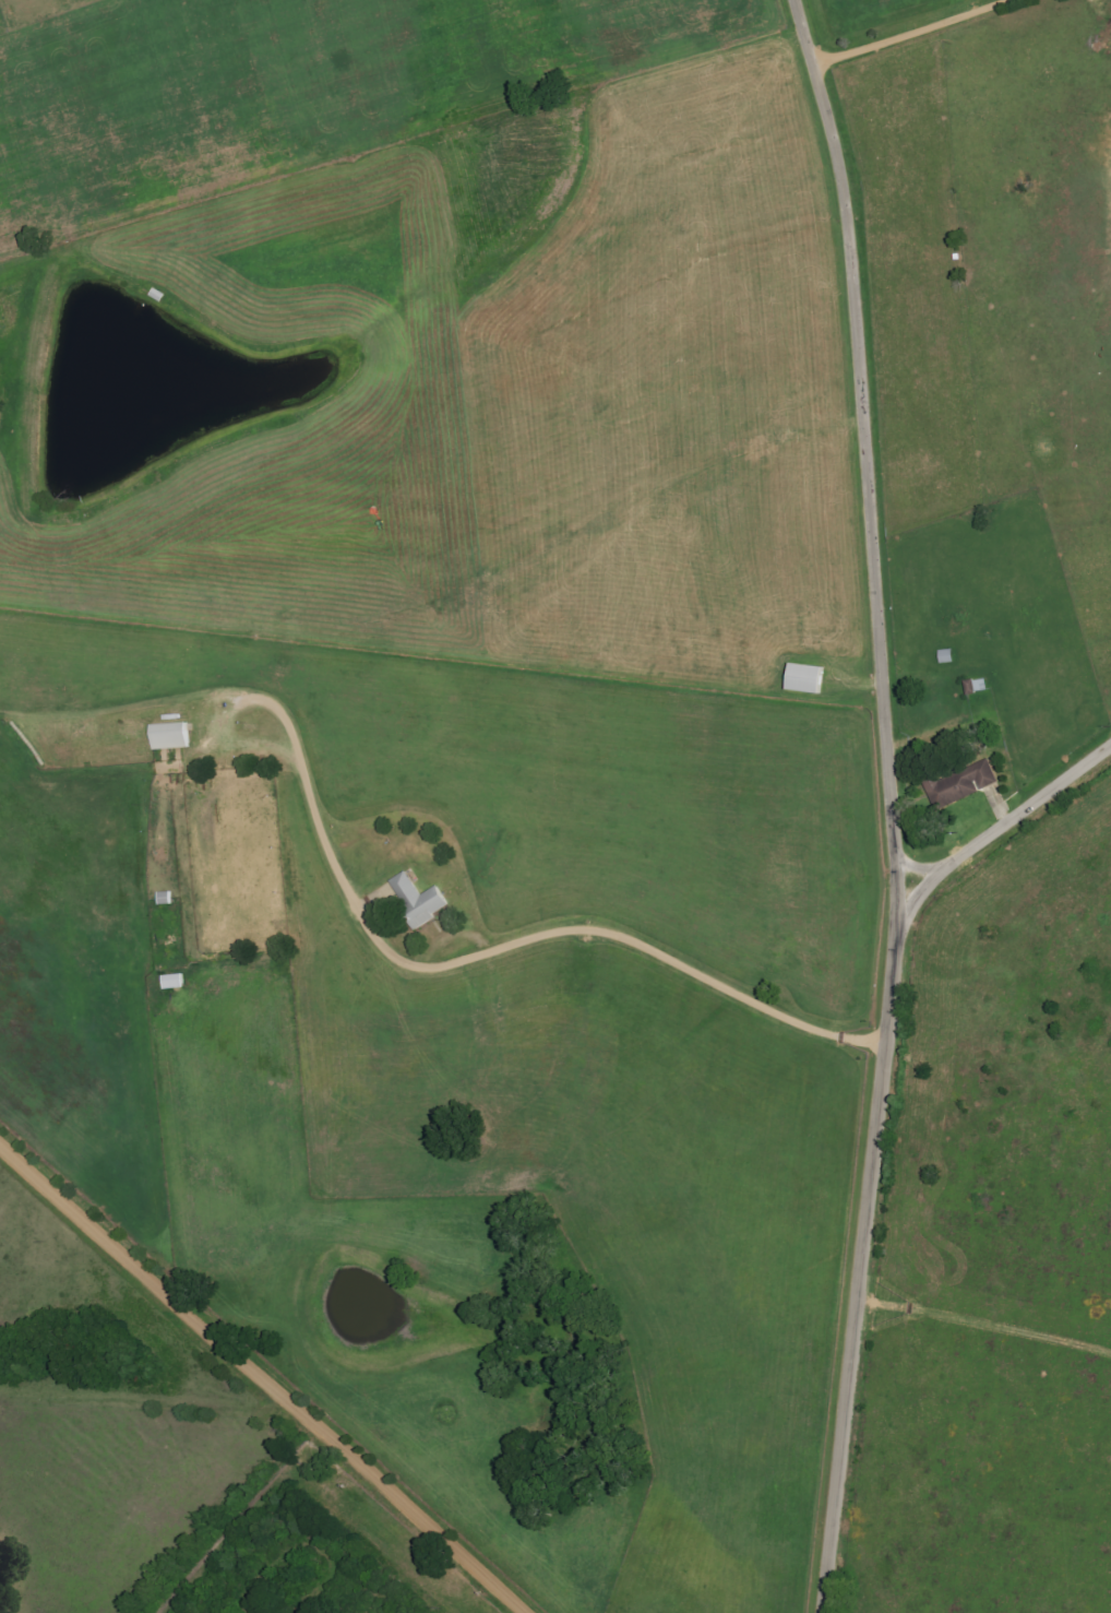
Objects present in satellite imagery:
road: (815, 66)
building: (804, 678)
building: (169, 736)
building: (964, 784)
road: (1010, 827)
road: (903, 873)
building: (417, 900)
road: (619, 927)
road: (260, 1378)

